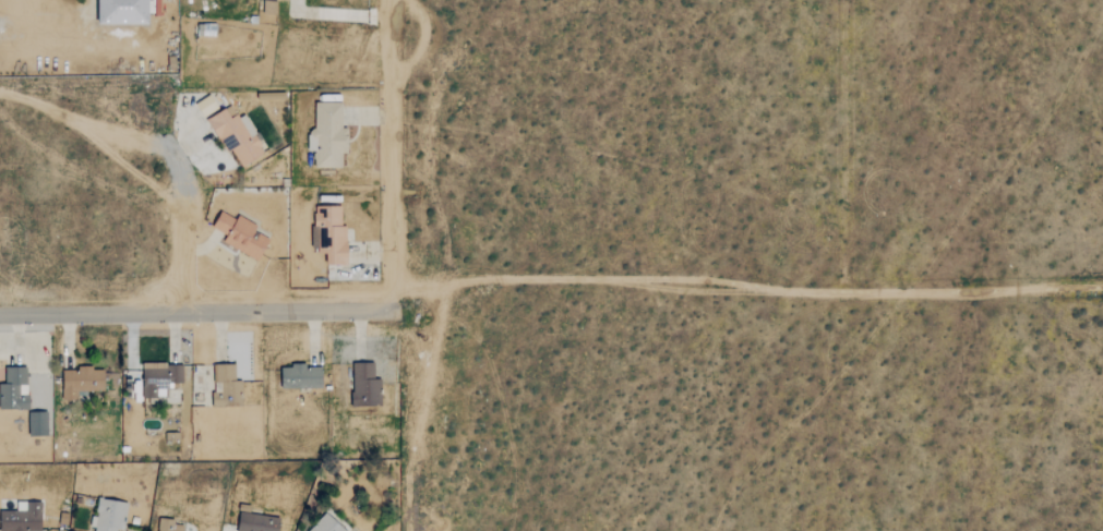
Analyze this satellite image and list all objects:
building: (119, 9)
building: (207, 106)
building: (328, 135)
building: (238, 136)
road: (158, 148)
road: (384, 155)
building: (241, 234)
building: (331, 234)
road: (741, 283)
road: (191, 312)
building: (160, 377)
building: (301, 377)
building: (82, 382)
building: (365, 385)
building: (227, 387)
building: (14, 389)
building: (38, 424)
building: (109, 515)
building: (22, 518)
building: (256, 522)
building: (326, 524)
building: (169, 526)

